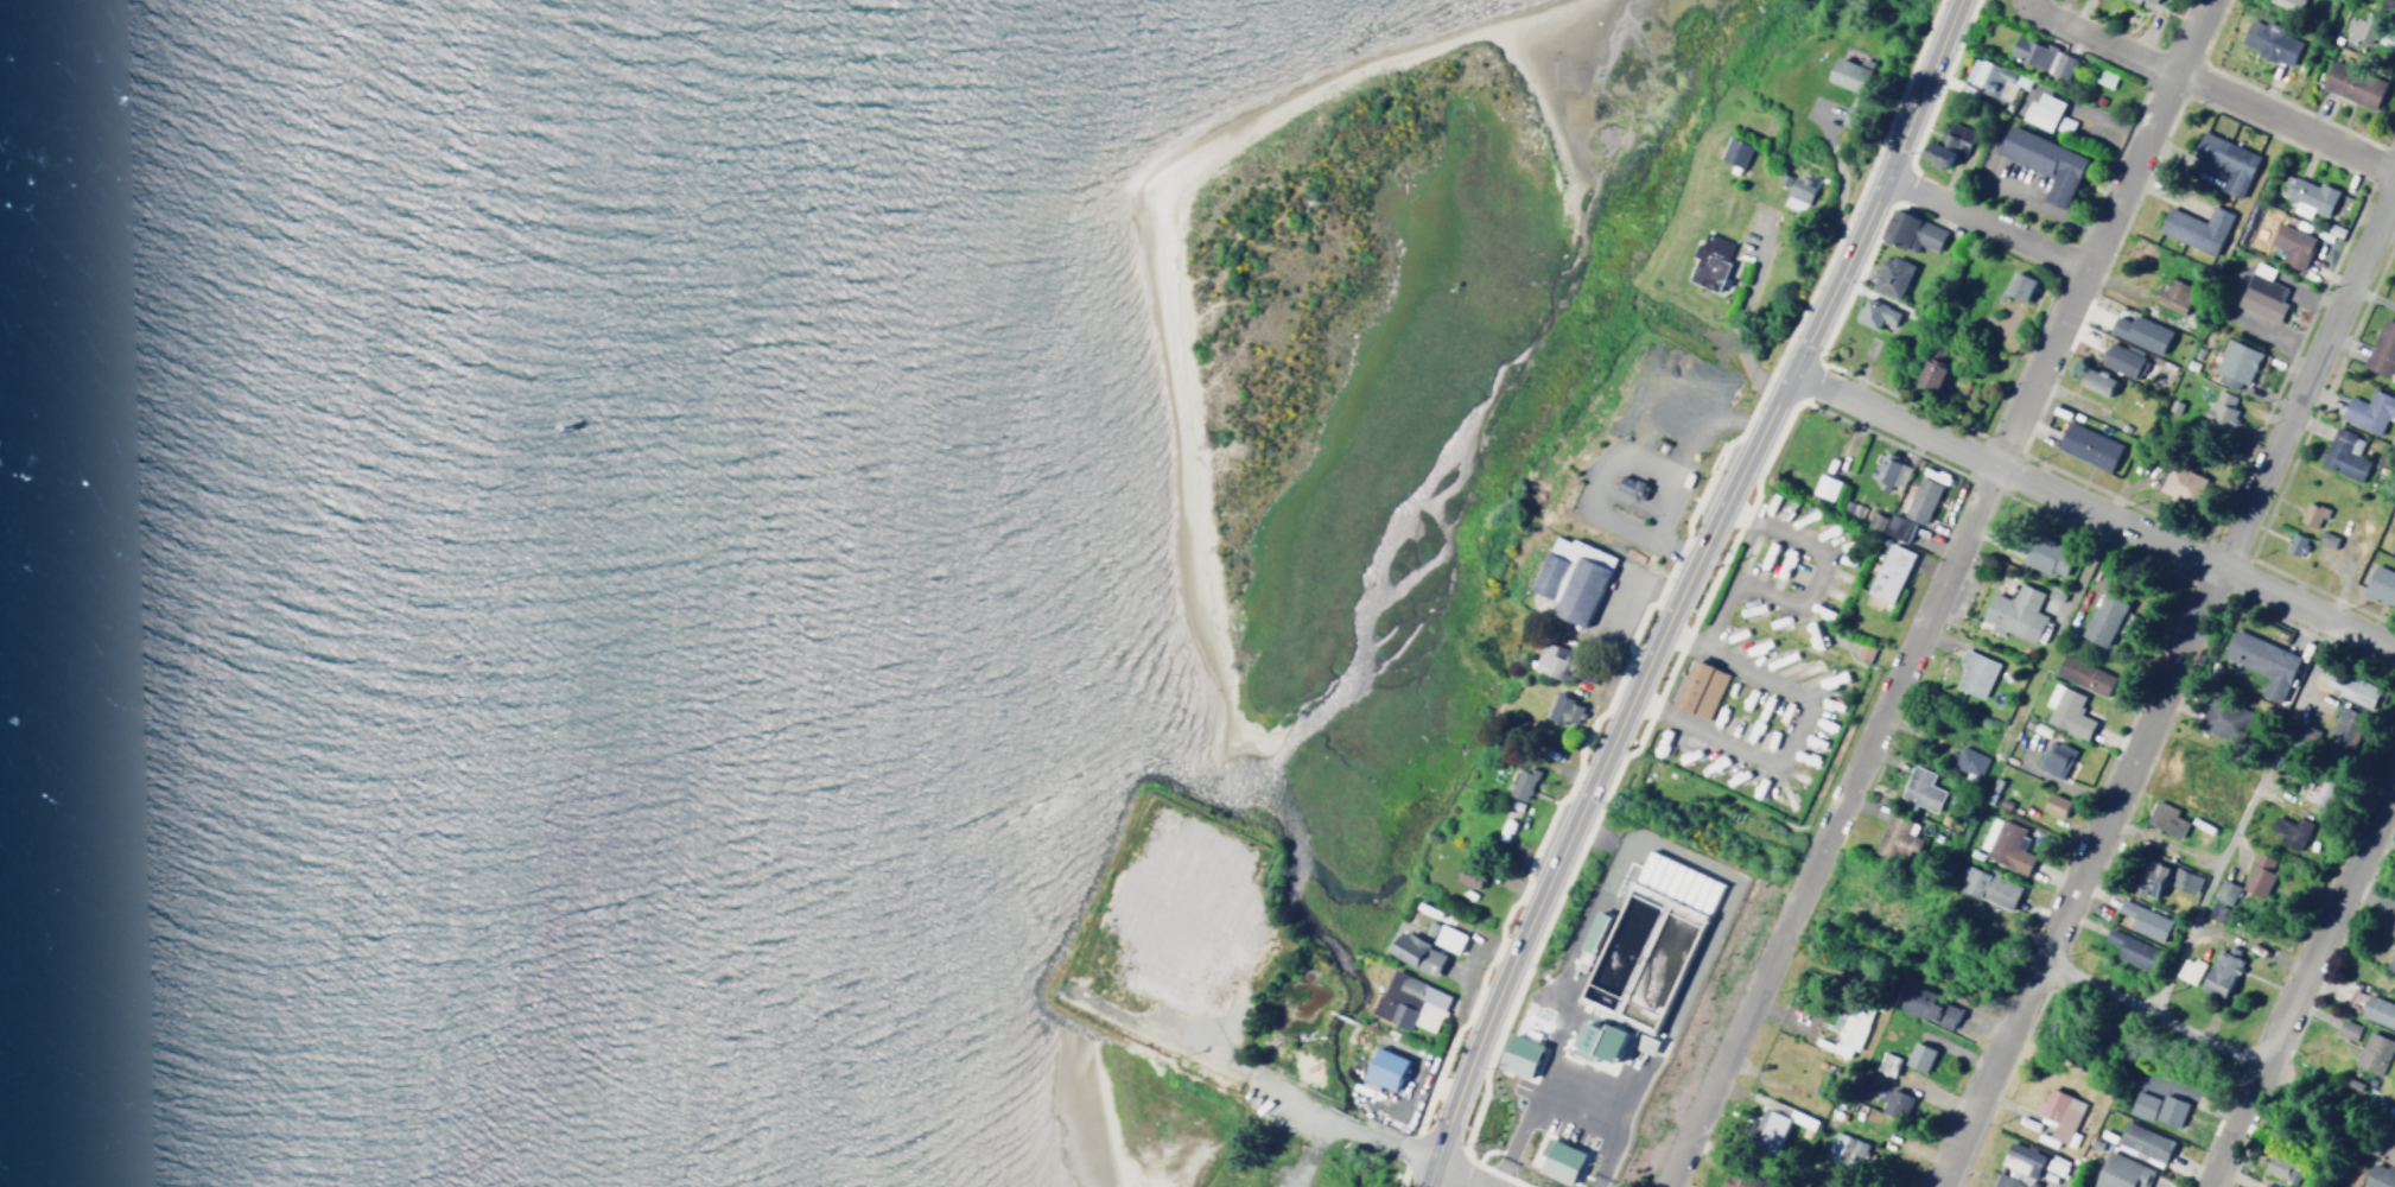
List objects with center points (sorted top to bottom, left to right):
river: (0, 0)
building: (2134, 1)
building: (2152, 1)
building: (2286, 5)
building: (2358, 28)
building: (2384, 38)
road: (2103, 40)
building: (2268, 40)
building: (2040, 57)
building: (1846, 74)
building: (1991, 80)
building: (2351, 84)
road: (1917, 85)
building: (2045, 114)
road: (2286, 122)
building: (1948, 146)
building: (1732, 153)
building: (2044, 161)
building: (2225, 161)
building: (1796, 191)
building: (2306, 196)
road: (1981, 221)
building: (1910, 231)
building: (2289, 245)
building: (1707, 261)
road: (1832, 272)
building: (1888, 277)
building: (2018, 285)
building: (2172, 294)
building: (2261, 294)
building: (1874, 315)
building: (2139, 332)
building: (2381, 348)
building: (2120, 361)
building: (2235, 364)
building: (1931, 370)
building: (2095, 381)
building: (2218, 411)
building: (2368, 411)
building: (2085, 446)
building: (2342, 453)
building: (1886, 472)
building: (2179, 484)
building: (1824, 487)
building: (1628, 488)
road: (1723, 500)
building: (1918, 500)
road: (2090, 513)
building: (2310, 514)
building: (1897, 527)
building: (2324, 539)
building: (2393, 542)
building: (2294, 545)
building: (2045, 557)
building: (1888, 572)
building: (1569, 578)
building: (2380, 580)
road: (1933, 592)
building: (2014, 614)
building: (2102, 621)
building: (1548, 660)
building: (2262, 664)
road: (1645, 665)
building: (1972, 673)
building: (2082, 674)
road: (2164, 683)
building: (2350, 688)
building: (1697, 690)
building: (1554, 706)
building: (2065, 711)
building: (1570, 712)
building: (2346, 728)
road: (1789, 732)
building: (2052, 758)
building: (1967, 761)
building: (1520, 783)
building: (1918, 789)
building: (2313, 789)
building: (2053, 805)
building: (2162, 818)
building: (2288, 830)
building: (1892, 837)
building: (2002, 843)
building: (2257, 874)
building: (1466, 875)
building: (2149, 877)
building: (2183, 880)
building: (1675, 881)
building: (1987, 887)
building: (2223, 890)
building: (2216, 913)
building: (2141, 919)
road: (1524, 928)
building: (1442, 935)
building: (2130, 950)
building: (1414, 953)
building: (2390, 959)
building: (2186, 969)
building: (2218, 972)
road: (2298, 976)
building: (1403, 997)
building: (1924, 1004)
road: (2147, 1009)
building: (2377, 1011)
building: (1427, 1015)
building: (1847, 1029)
building: (2345, 1029)
building: (1599, 1039)
building: (2371, 1052)
building: (1518, 1054)
building: (1917, 1055)
building: (1882, 1062)
building: (1383, 1067)
building: (1893, 1102)
building: (2141, 1105)
road: (1309, 1110)
building: (2168, 1110)
building: (2057, 1112)
building: (1779, 1124)
road: (2389, 1124)
building: (2142, 1141)
building: (2019, 1157)
building: (1557, 1159)
building: (2279, 1167)
building: (2120, 1172)
road: (1434, 1176)
road: (1459, 1176)
building: (2377, 1176)
building: (1740, 1180)
building: (2005, 1181)
building: (2262, 1185)

